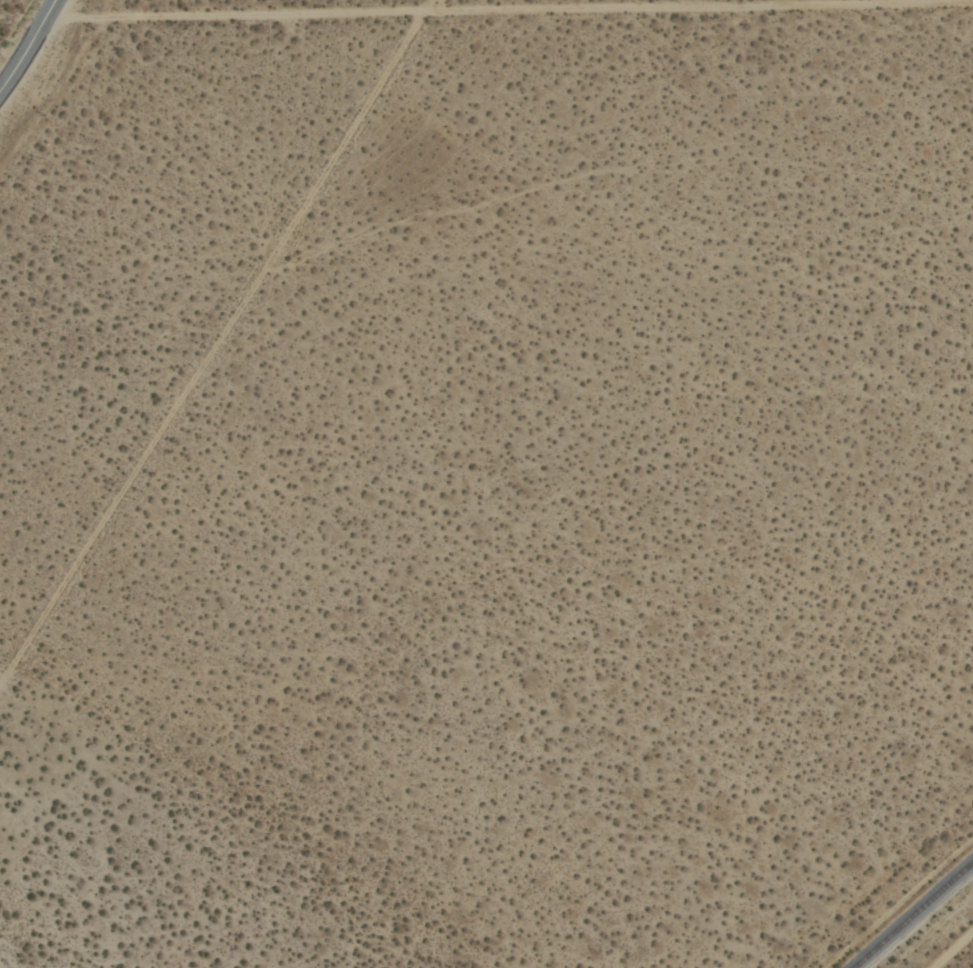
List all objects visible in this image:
road: (486, 11)
road: (30, 48)
railway: (915, 916)

